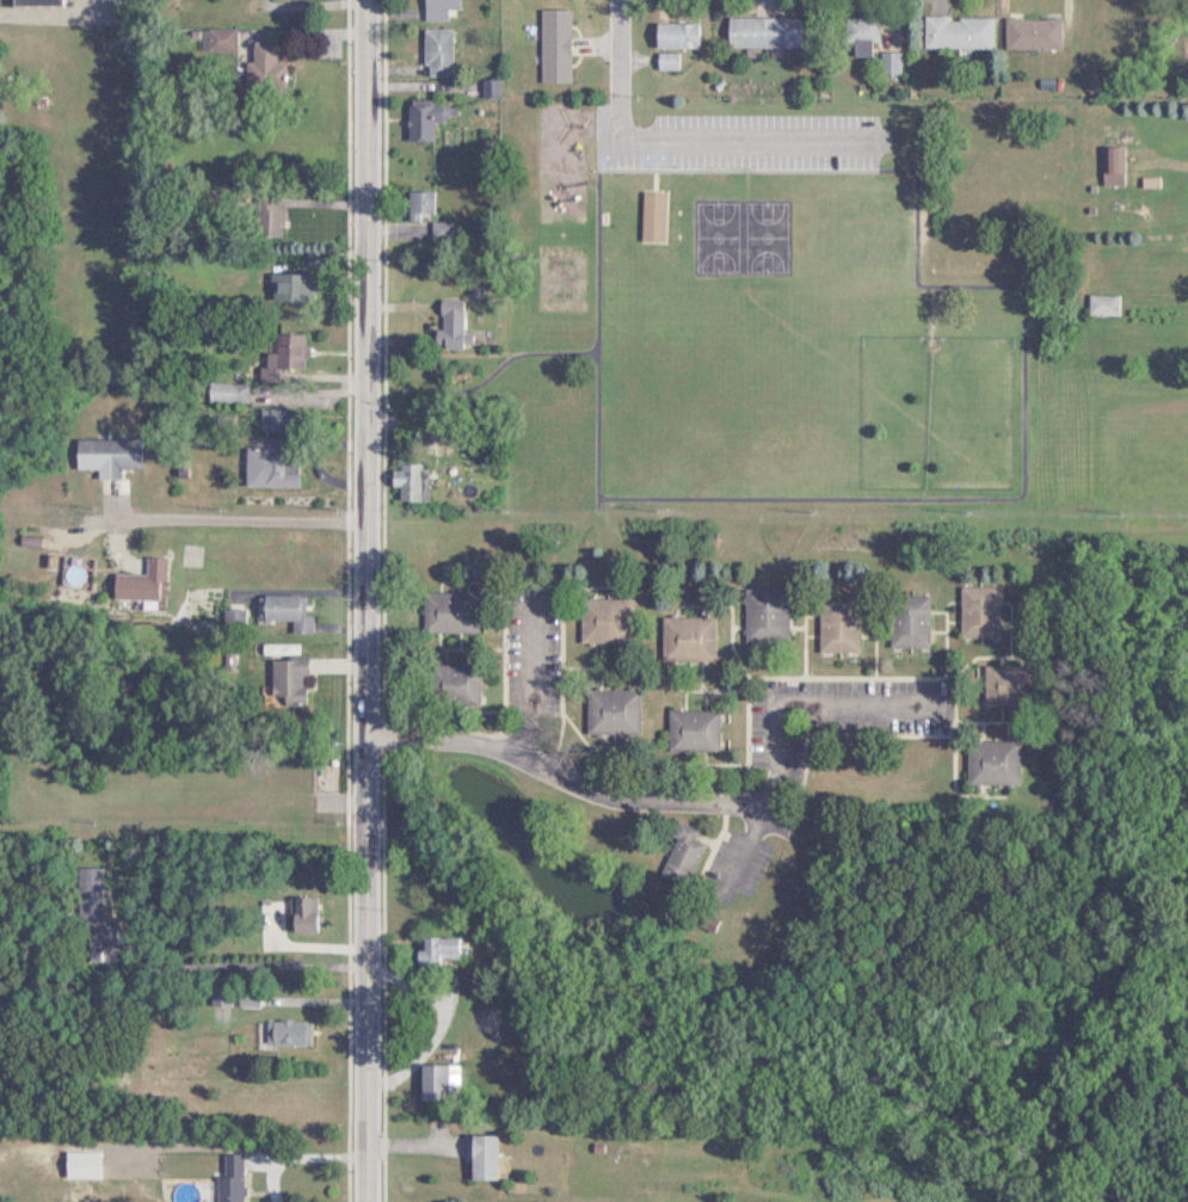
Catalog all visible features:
building: (30, 2)
building: (433, 8)
road: (49, 10)
building: (857, 29)
building: (758, 32)
building: (954, 32)
building: (1029, 32)
building: (670, 36)
building: (221, 38)
building: (549, 45)
building: (431, 51)
road: (617, 54)
building: (886, 62)
building: (260, 64)
building: (420, 117)
road: (734, 136)
building: (413, 205)
building: (261, 216)
building: (647, 216)
building: (284, 285)
building: (1098, 304)
building: (276, 356)
building: (222, 392)
building: (270, 419)
building: (103, 456)
building: (266, 463)
building: (405, 481)
road: (234, 518)
building: (136, 581)
road: (362, 600)
building: (281, 610)
building: (443, 611)
building: (975, 611)
building: (761, 615)
building: (602, 620)
building: (905, 621)
building: (833, 625)
building: (683, 639)
building: (284, 680)
road: (530, 683)
building: (450, 684)
building: (1005, 684)
building: (608, 711)
building: (689, 729)
building: (987, 762)
road: (685, 803)
building: (676, 855)
building: (88, 911)
building: (700, 920)
building: (432, 950)
road: (238, 966)
building: (214, 994)
building: (241, 1000)
road: (433, 1028)
building: (282, 1033)
building: (432, 1080)
road: (294, 1155)
building: (474, 1157)
building: (223, 1177)

